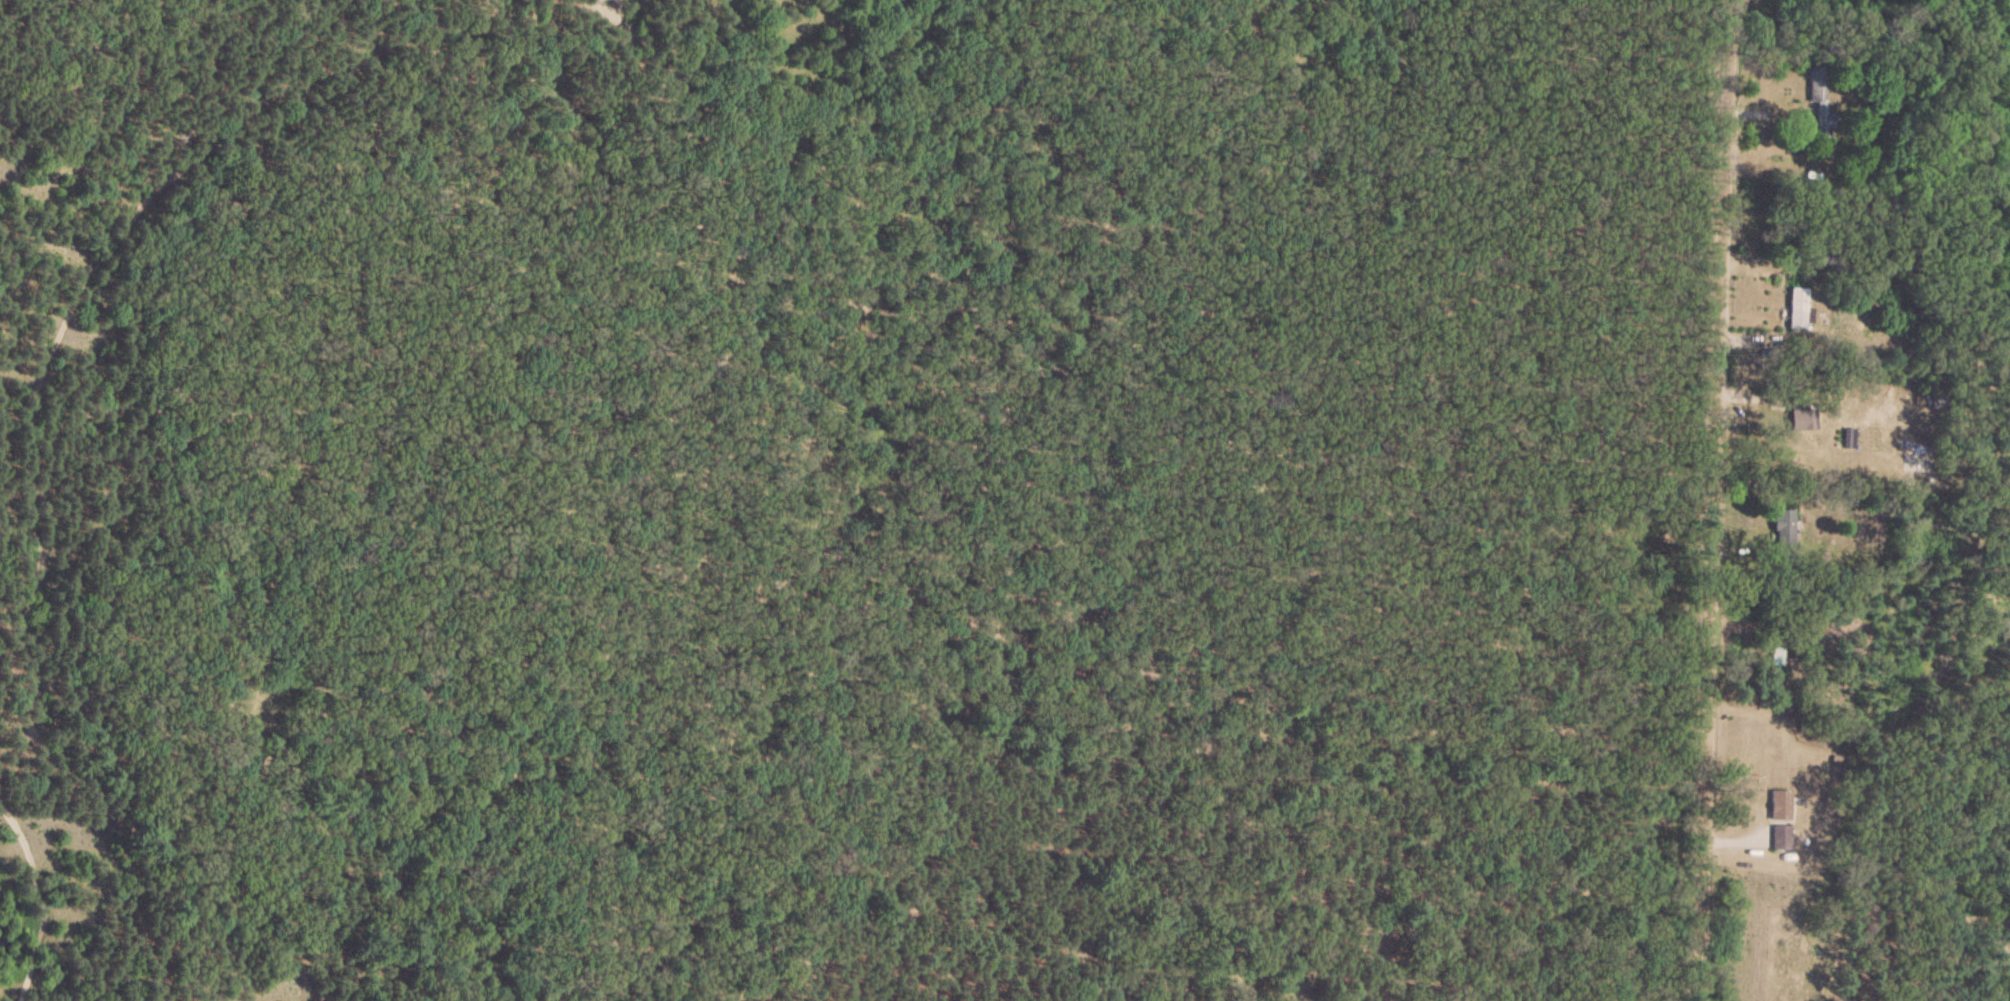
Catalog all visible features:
building: (1821, 102)
building: (1797, 311)
building: (1806, 420)
road: (1709, 500)
building: (1782, 535)
building: (1777, 663)
building: (1780, 808)
building: (1780, 840)

